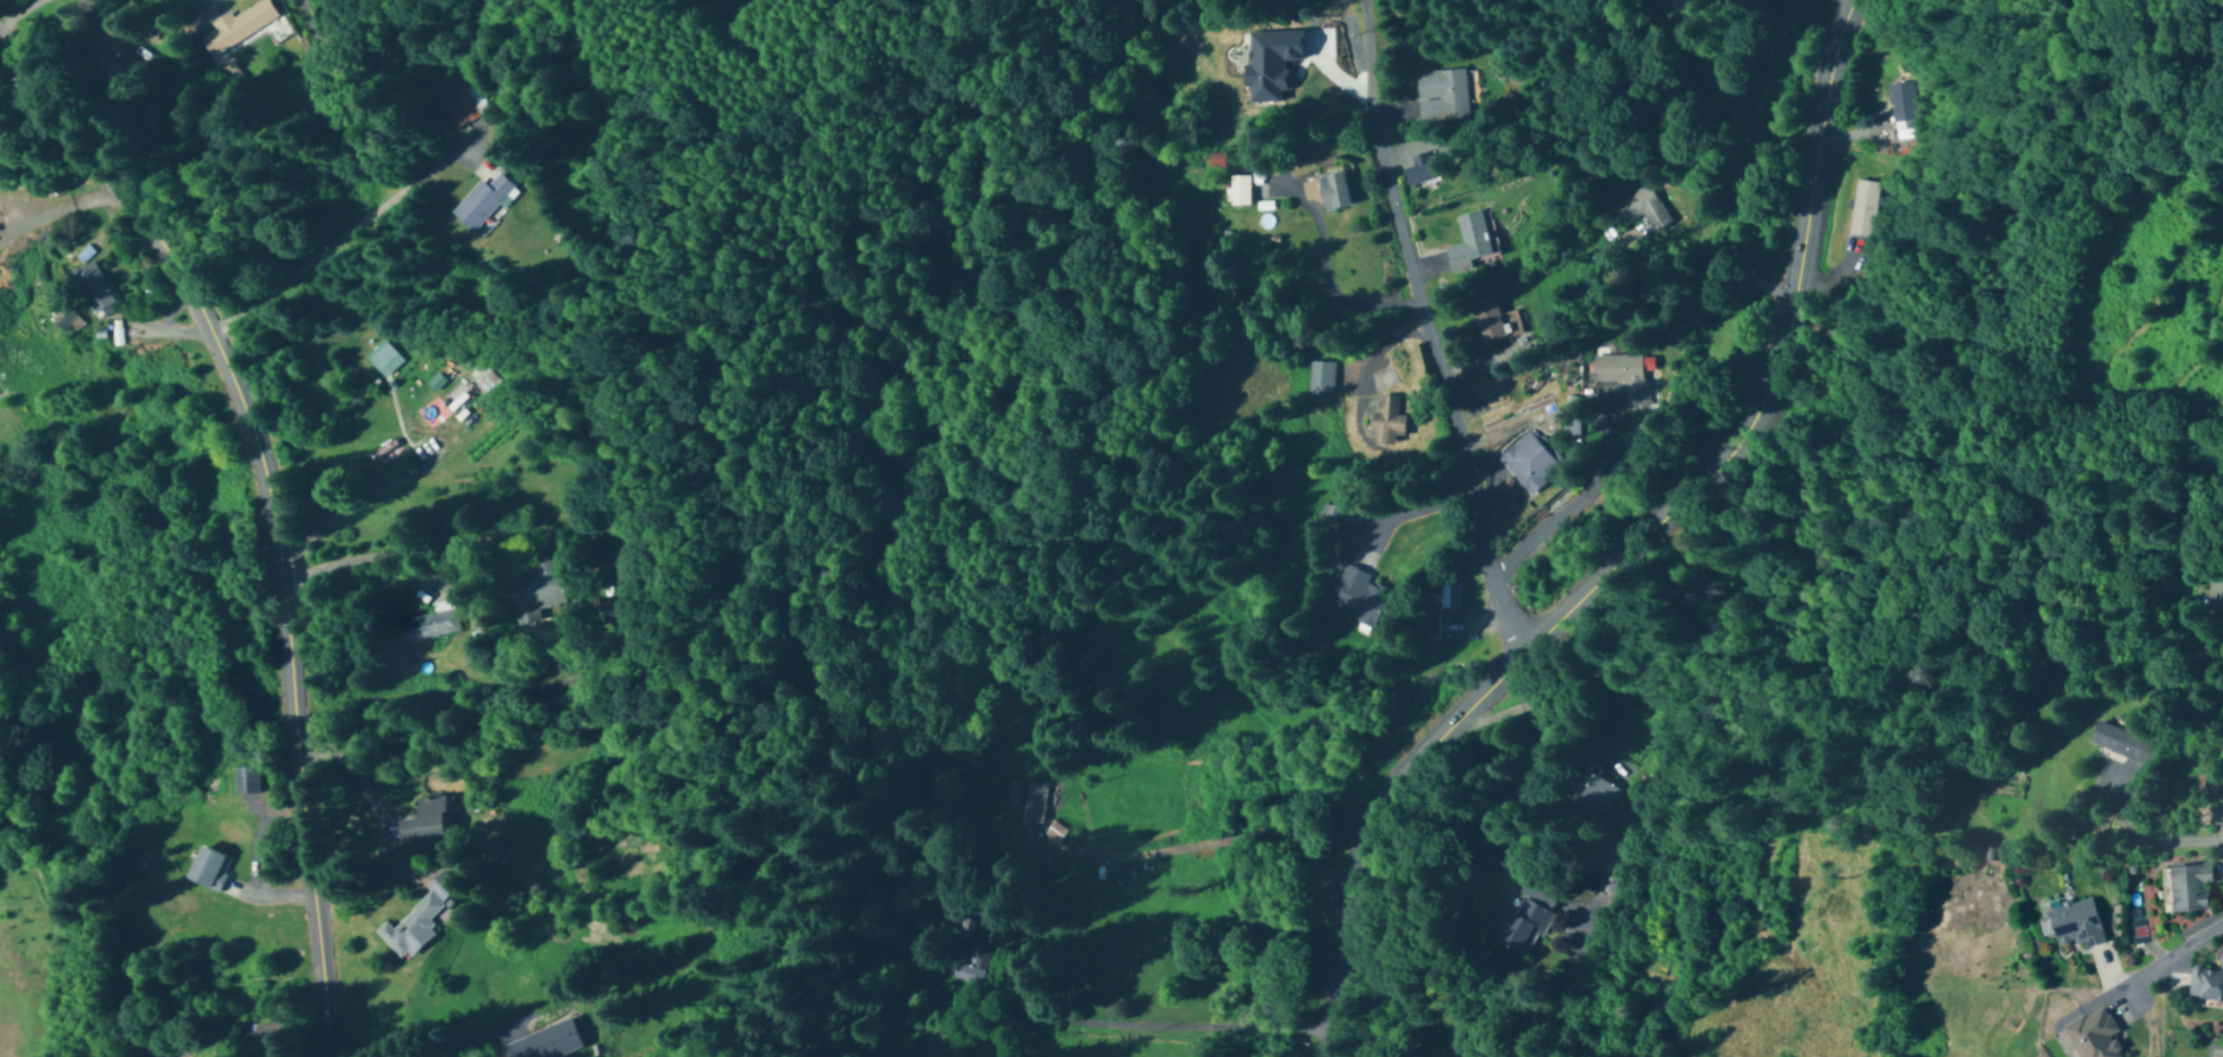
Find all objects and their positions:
road: (17, 9)
road: (1833, 9)
building: (245, 27)
building: (114, 65)
road: (17, 73)
building: (1441, 95)
building: (463, 106)
building: (1903, 108)
building: (1213, 160)
building: (1419, 169)
building: (1238, 190)
building: (1327, 190)
building: (481, 202)
road: (60, 206)
building: (1866, 209)
building: (1640, 210)
road: (343, 235)
building: (1468, 243)
road: (1709, 268)
road: (1759, 282)
building: (90, 288)
road: (1782, 288)
road: (1328, 294)
building: (1489, 319)
road: (1424, 330)
building: (382, 357)
building: (1625, 377)
building: (1321, 378)
building: (456, 397)
building: (1387, 422)
building: (1530, 460)
road: (269, 505)
road: (347, 505)
road: (1408, 518)
road: (1544, 530)
road: (1637, 540)
road: (423, 548)
building: (536, 592)
building: (2214, 593)
building: (1357, 598)
building: (1441, 603)
building: (433, 624)
building: (2124, 745)
building: (246, 781)
road: (349, 784)
building: (1598, 795)
building: (1025, 800)
building: (2204, 811)
building: (425, 822)
road: (2149, 835)
road: (1236, 838)
building: (1620, 852)
building: (208, 870)
road: (2221, 870)
building: (2189, 888)
building: (415, 921)
building: (1526, 923)
building: (2074, 925)
road: (2166, 962)
building: (964, 966)
building: (2207, 984)
road: (1173, 1023)
building: (2094, 1035)
building: (266, 1041)
road: (1332, 1042)
building: (545, 1043)
road: (474, 1045)

